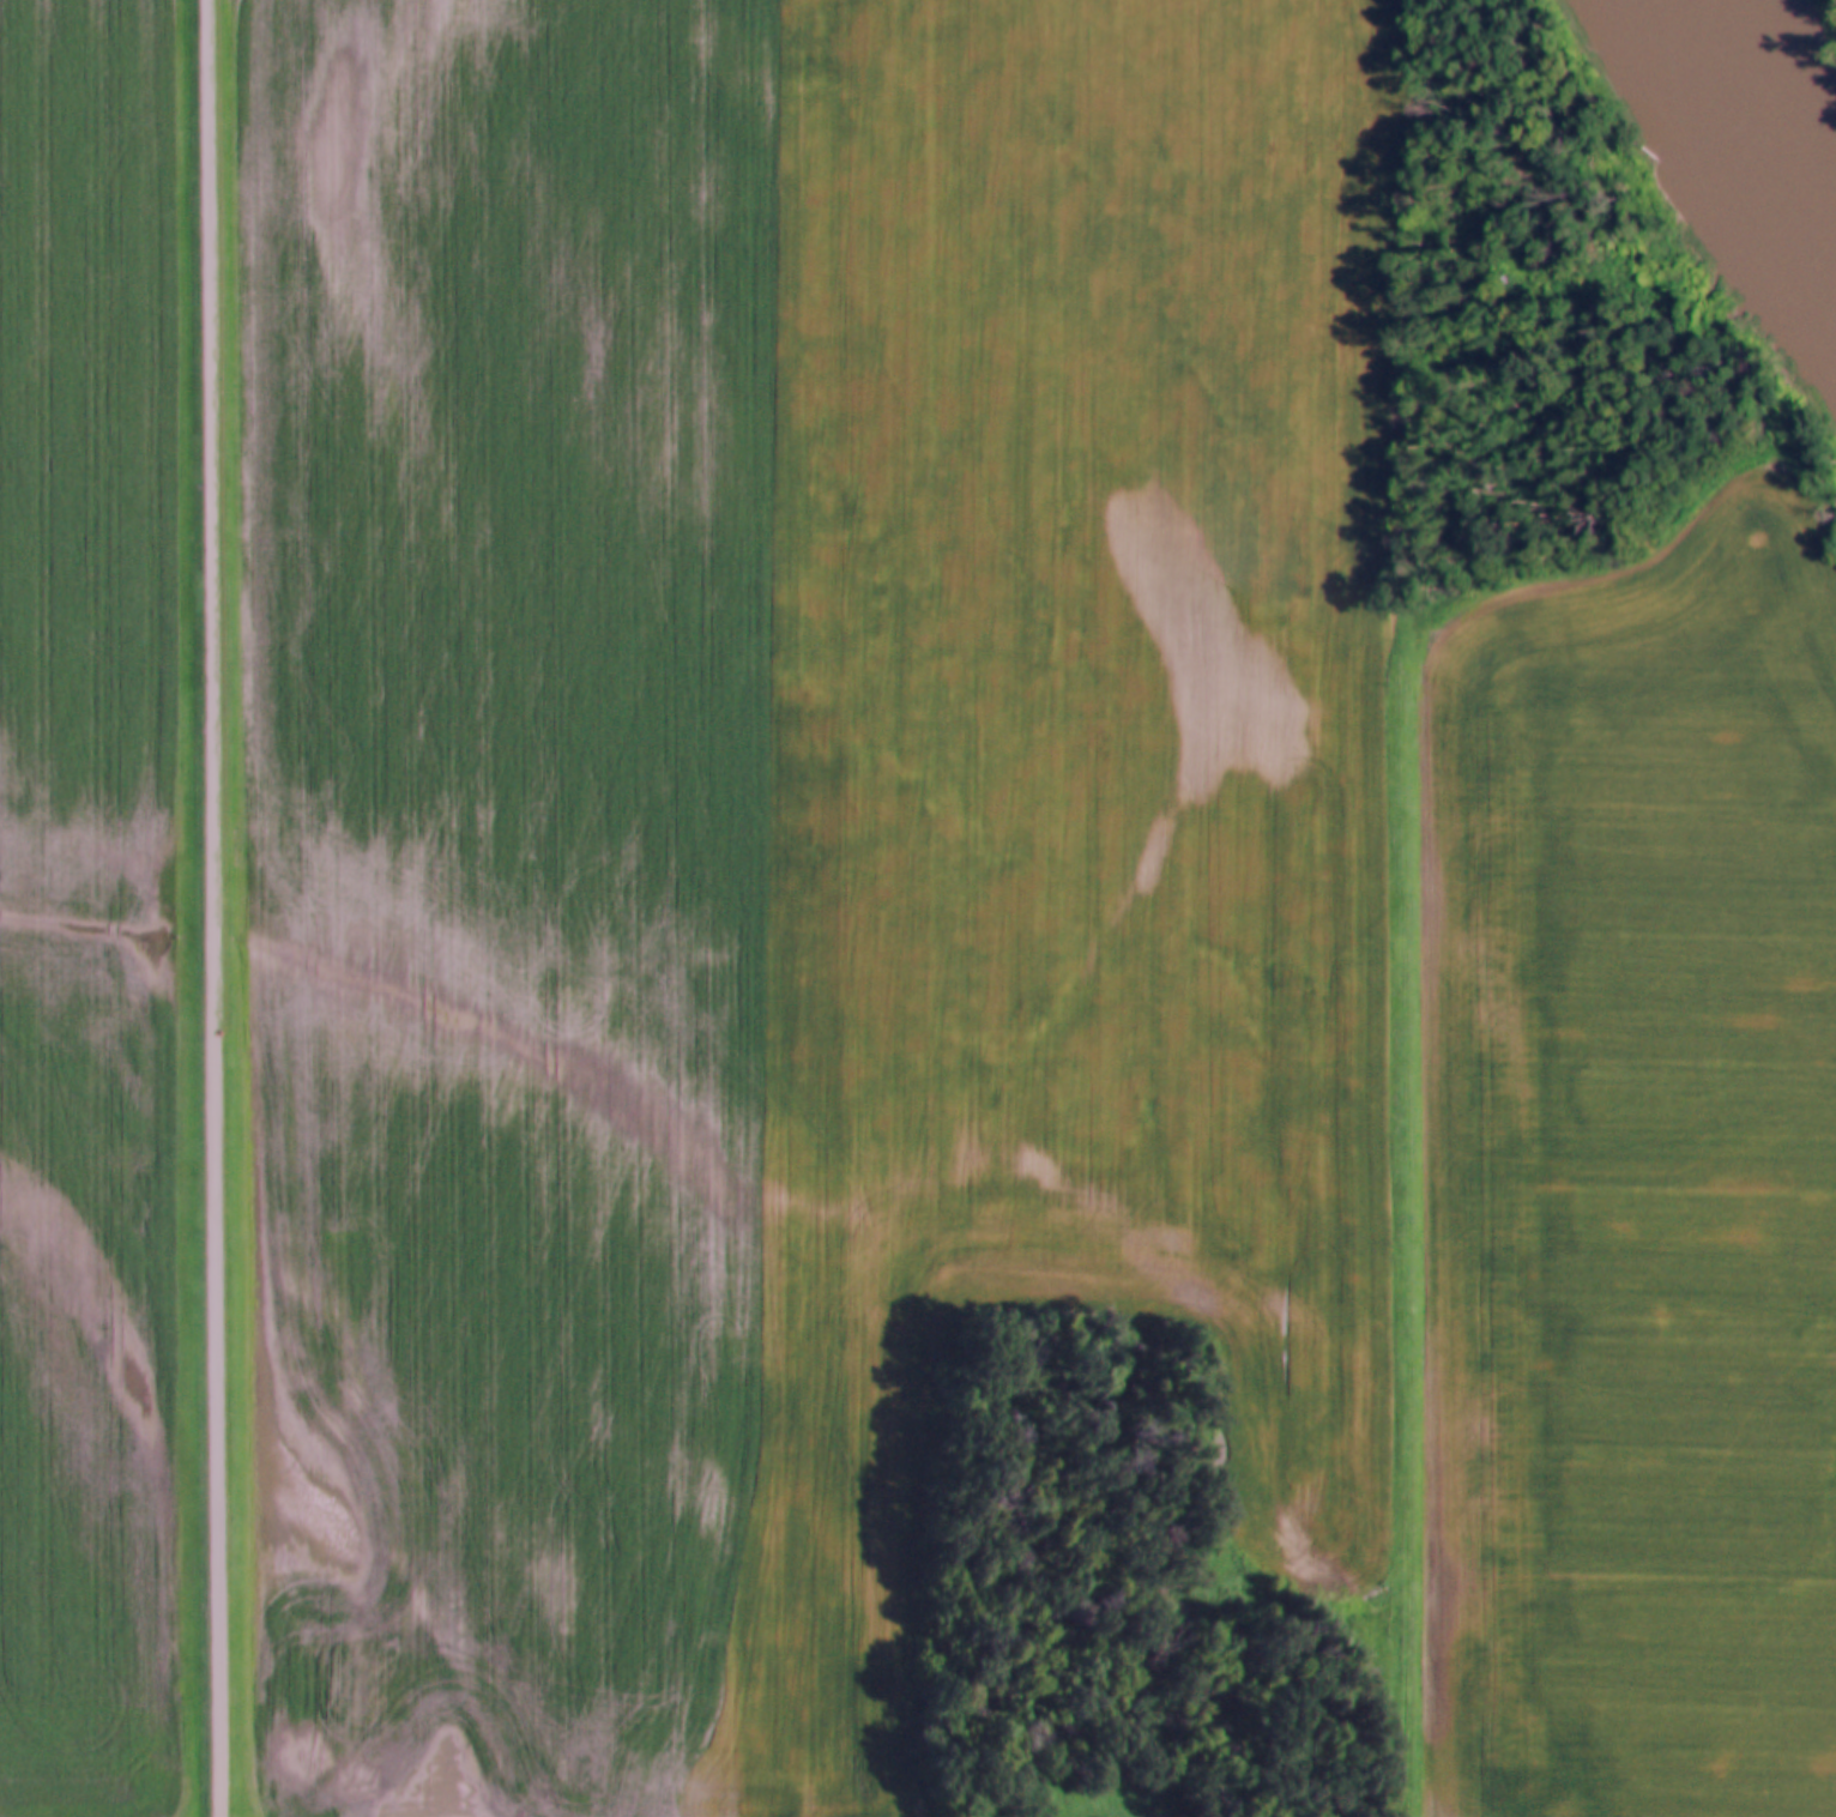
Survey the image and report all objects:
river: (1743, 140)
road: (218, 909)
road: (1418, 978)

